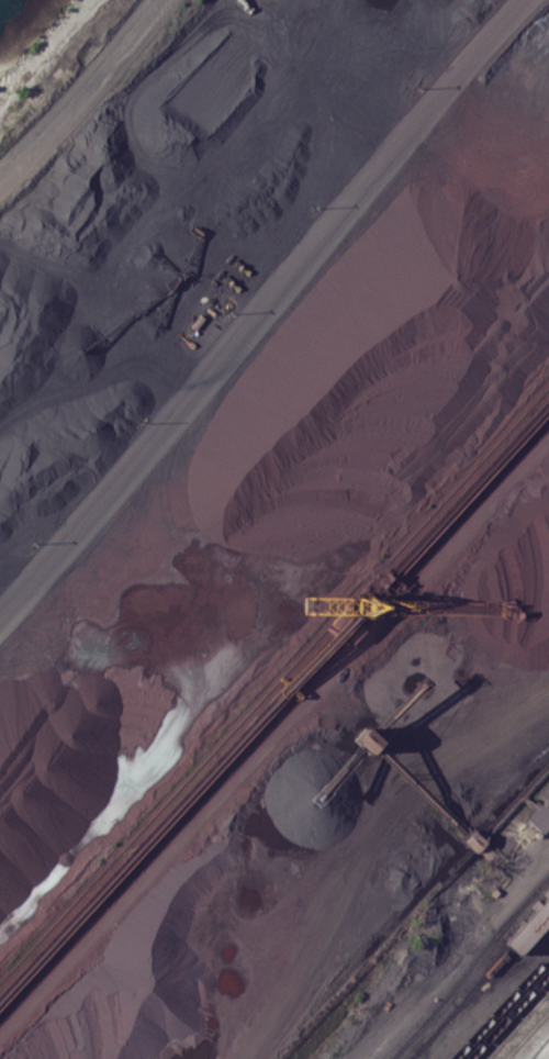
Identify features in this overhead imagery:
road: (83, 87)
railway: (56, 168)
road: (262, 302)
building: (368, 738)
building: (422, 791)
building: (541, 815)
building: (474, 840)
railway: (508, 921)
building: (530, 927)
railway: (530, 927)
railway: (470, 993)
railway: (501, 1006)
railway: (429, 1013)
railway: (507, 1014)
railway: (516, 1024)
railway: (525, 1033)
railway: (419, 1048)
railway: (411, 1058)

